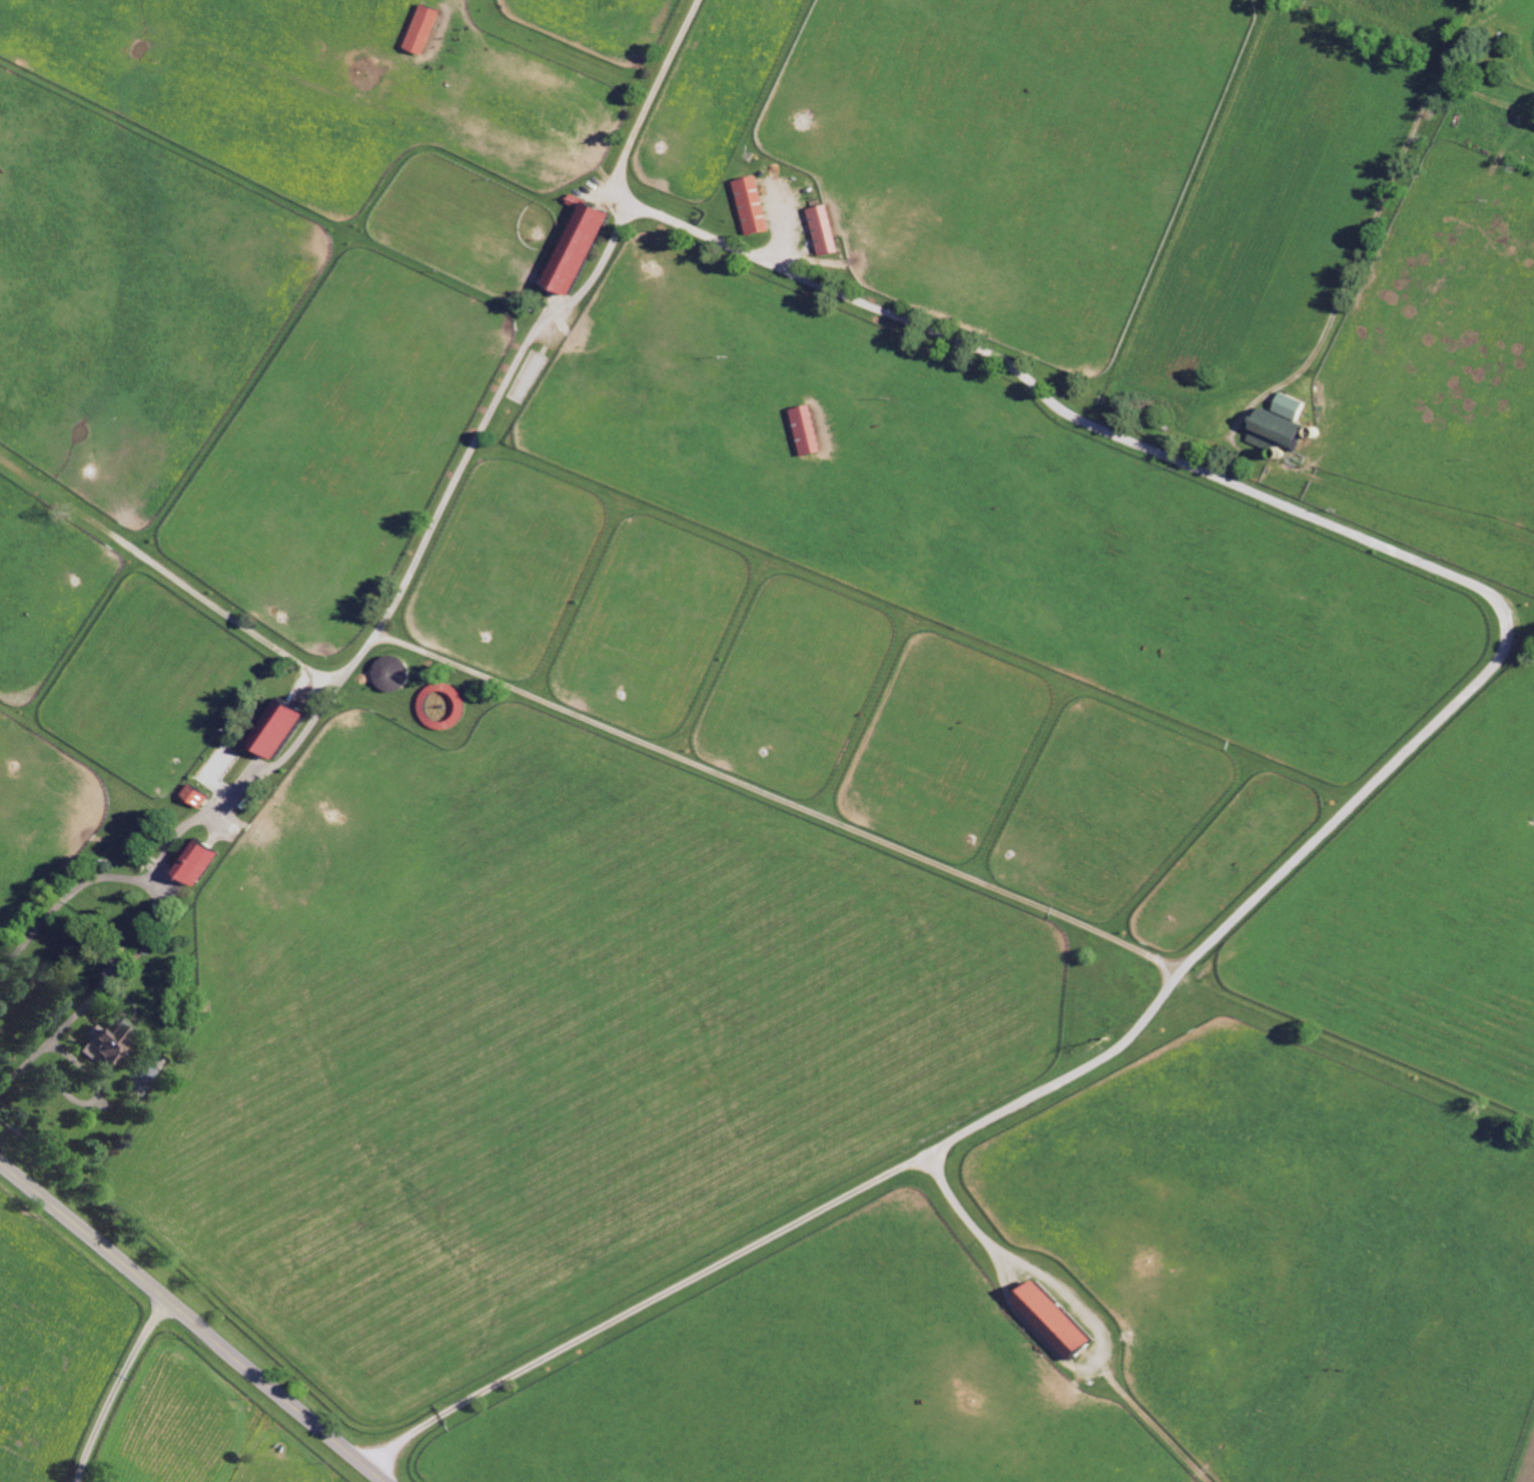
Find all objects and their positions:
road: (1533, 1)
building: (428, 28)
road: (1530, 42)
building: (757, 206)
road: (1373, 220)
building: (828, 231)
building: (586, 248)
building: (1284, 406)
building: (812, 428)
building: (1268, 428)
road: (1265, 496)
building: (289, 724)
building: (204, 793)
building: (205, 858)
road: (99, 990)
building: (109, 1043)
road: (1078, 1305)
building: (1063, 1321)
road: (192, 1322)
road: (117, 1389)

